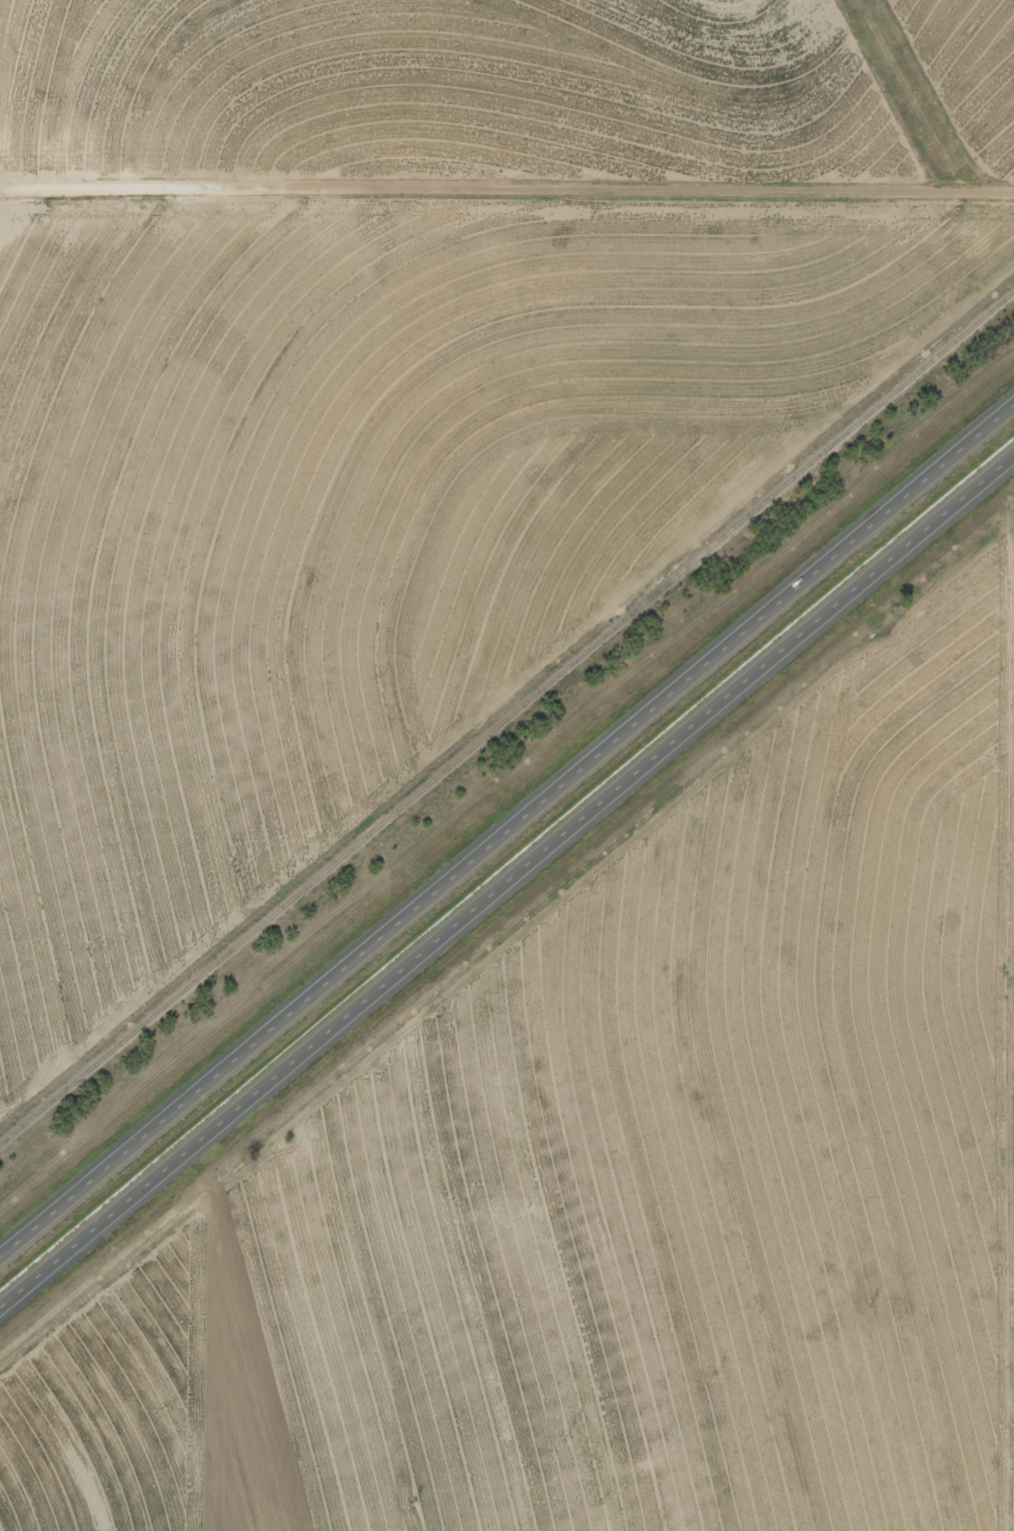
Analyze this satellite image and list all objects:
road: (915, 91)
road: (507, 188)
railway: (507, 718)
road: (1011, 825)
road: (507, 832)
road: (507, 886)
road: (504, 927)

